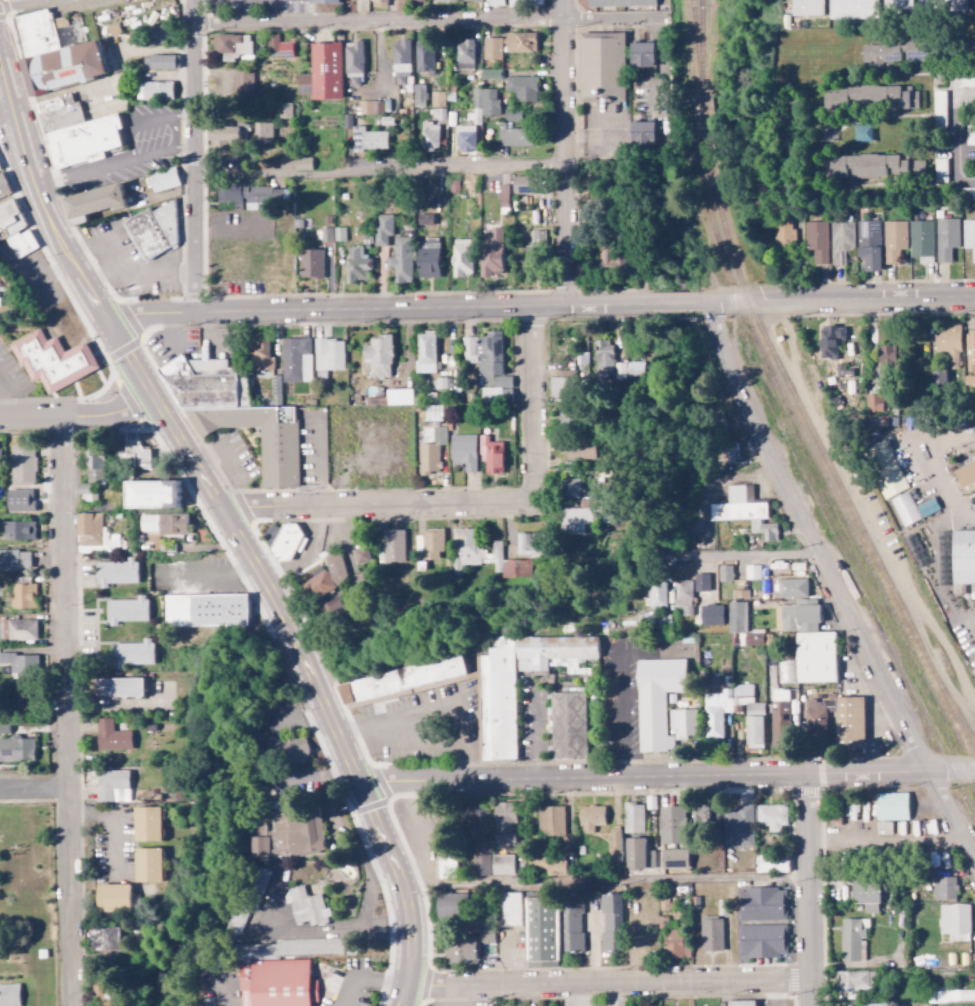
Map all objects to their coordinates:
building: (445, 0)
building: (974, 0)
building: (322, 1)
building: (412, 1)
building: (471, 1)
building: (534, 2)
building: (495, 3)
building: (515, 3)
building: (619, 3)
building: (897, 4)
road: (24, 5)
building: (941, 5)
building: (806, 7)
building: (853, 9)
road: (430, 22)
building: (520, 43)
building: (232, 47)
building: (278, 49)
building: (492, 49)
railway: (701, 50)
railway: (694, 51)
building: (880, 53)
building: (54, 54)
building: (464, 54)
building: (641, 55)
building: (424, 57)
building: (163, 62)
building: (401, 62)
building: (601, 65)
building: (325, 71)
building: (489, 74)
building: (967, 81)
building: (242, 85)
building: (522, 88)
building: (153, 90)
building: (418, 96)
building: (870, 98)
building: (437, 99)
building: (484, 102)
building: (371, 108)
building: (284, 111)
railway: (703, 112)
road: (6, 114)
building: (512, 114)
road: (145, 120)
building: (76, 131)
road: (172, 132)
building: (227, 133)
building: (262, 133)
building: (642, 134)
building: (429, 135)
building: (515, 137)
building: (465, 138)
road: (565, 153)
road: (202, 157)
road: (118, 162)
building: (302, 163)
building: (917, 165)
building: (868, 166)
road: (383, 168)
road: (33, 178)
building: (162, 180)
railway: (703, 180)
building: (522, 185)
building: (250, 196)
building: (503, 199)
building: (91, 203)
building: (10, 218)
building: (383, 229)
building: (783, 231)
building: (153, 232)
building: (333, 234)
building: (969, 237)
building: (946, 238)
building: (816, 241)
building: (894, 241)
building: (921, 241)
building: (840, 242)
building: (21, 243)
building: (870, 245)
building: (533, 252)
building: (491, 253)
building: (461, 258)
building: (609, 258)
building: (428, 259)
building: (401, 260)
building: (310, 263)
building: (356, 265)
road: (93, 299)
road: (539, 306)
building: (829, 340)
building: (948, 345)
building: (970, 351)
building: (425, 353)
building: (261, 356)
building: (328, 356)
building: (378, 357)
building: (603, 357)
building: (885, 357)
building: (295, 360)
building: (52, 361)
building: (487, 365)
building: (561, 386)
building: (398, 397)
road: (534, 403)
building: (876, 408)
building: (235, 415)
road: (77, 417)
building: (569, 417)
railway: (818, 449)
building: (578, 451)
building: (135, 452)
building: (430, 453)
building: (463, 454)
building: (490, 456)
building: (22, 466)
building: (96, 469)
building: (888, 470)
building: (966, 477)
building: (572, 488)
building: (151, 495)
road: (376, 506)
building: (745, 512)
railway: (840, 512)
building: (576, 518)
building: (173, 524)
building: (18, 531)
building: (92, 534)
railway: (831, 536)
building: (286, 543)
building: (431, 543)
building: (530, 544)
building: (393, 546)
building: (361, 555)
building: (488, 556)
road: (757, 557)
building: (963, 557)
building: (14, 560)
building: (116, 573)
building: (725, 574)
building: (752, 576)
road: (211, 578)
building: (325, 578)
road: (836, 581)
building: (701, 583)
railway: (865, 585)
building: (792, 588)
building: (22, 597)
building: (655, 597)
building: (683, 598)
building: (205, 609)
building: (126, 611)
building: (711, 615)
building: (741, 625)
building: (18, 630)
road: (301, 648)
building: (552, 651)
building: (131, 654)
building: (815, 658)
building: (20, 663)
building: (784, 671)
building: (402, 681)
building: (118, 689)
building: (656, 701)
building: (498, 703)
road: (68, 712)
building: (779, 718)
building: (851, 722)
building: (815, 723)
building: (682, 724)
building: (568, 726)
building: (712, 726)
building: (4, 730)
building: (111, 737)
building: (16, 750)
building: (288, 751)
road: (666, 777)
building: (112, 786)
road: (35, 789)
building: (891, 806)
building: (700, 813)
building: (771, 816)
building: (633, 817)
building: (590, 819)
building: (551, 820)
building: (504, 822)
building: (146, 824)
building: (672, 824)
building: (738, 826)
building: (259, 828)
building: (297, 833)
building: (614, 842)
building: (259, 847)
building: (637, 853)
building: (479, 858)
building: (674, 858)
building: (771, 863)
building: (147, 864)
building: (446, 864)
building: (501, 864)
building: (548, 864)
road: (366, 883)
road: (606, 887)
building: (944, 887)
road: (812, 892)
building: (113, 896)
building: (866, 896)
building: (763, 903)
building: (448, 905)
building: (307, 909)
building: (510, 909)
building: (238, 915)
building: (610, 920)
building: (955, 921)
building: (572, 923)
building: (541, 931)
road: (314, 933)
building: (711, 933)
building: (105, 938)
building: (853, 939)
building: (672, 940)
building: (763, 940)
building: (467, 947)
building: (854, 982)
building: (282, 984)
road: (609, 987)
building: (101, 993)
building: (9, 995)
building: (740, 1003)
parking lot: (460, 1004)
building: (878, 1004)

